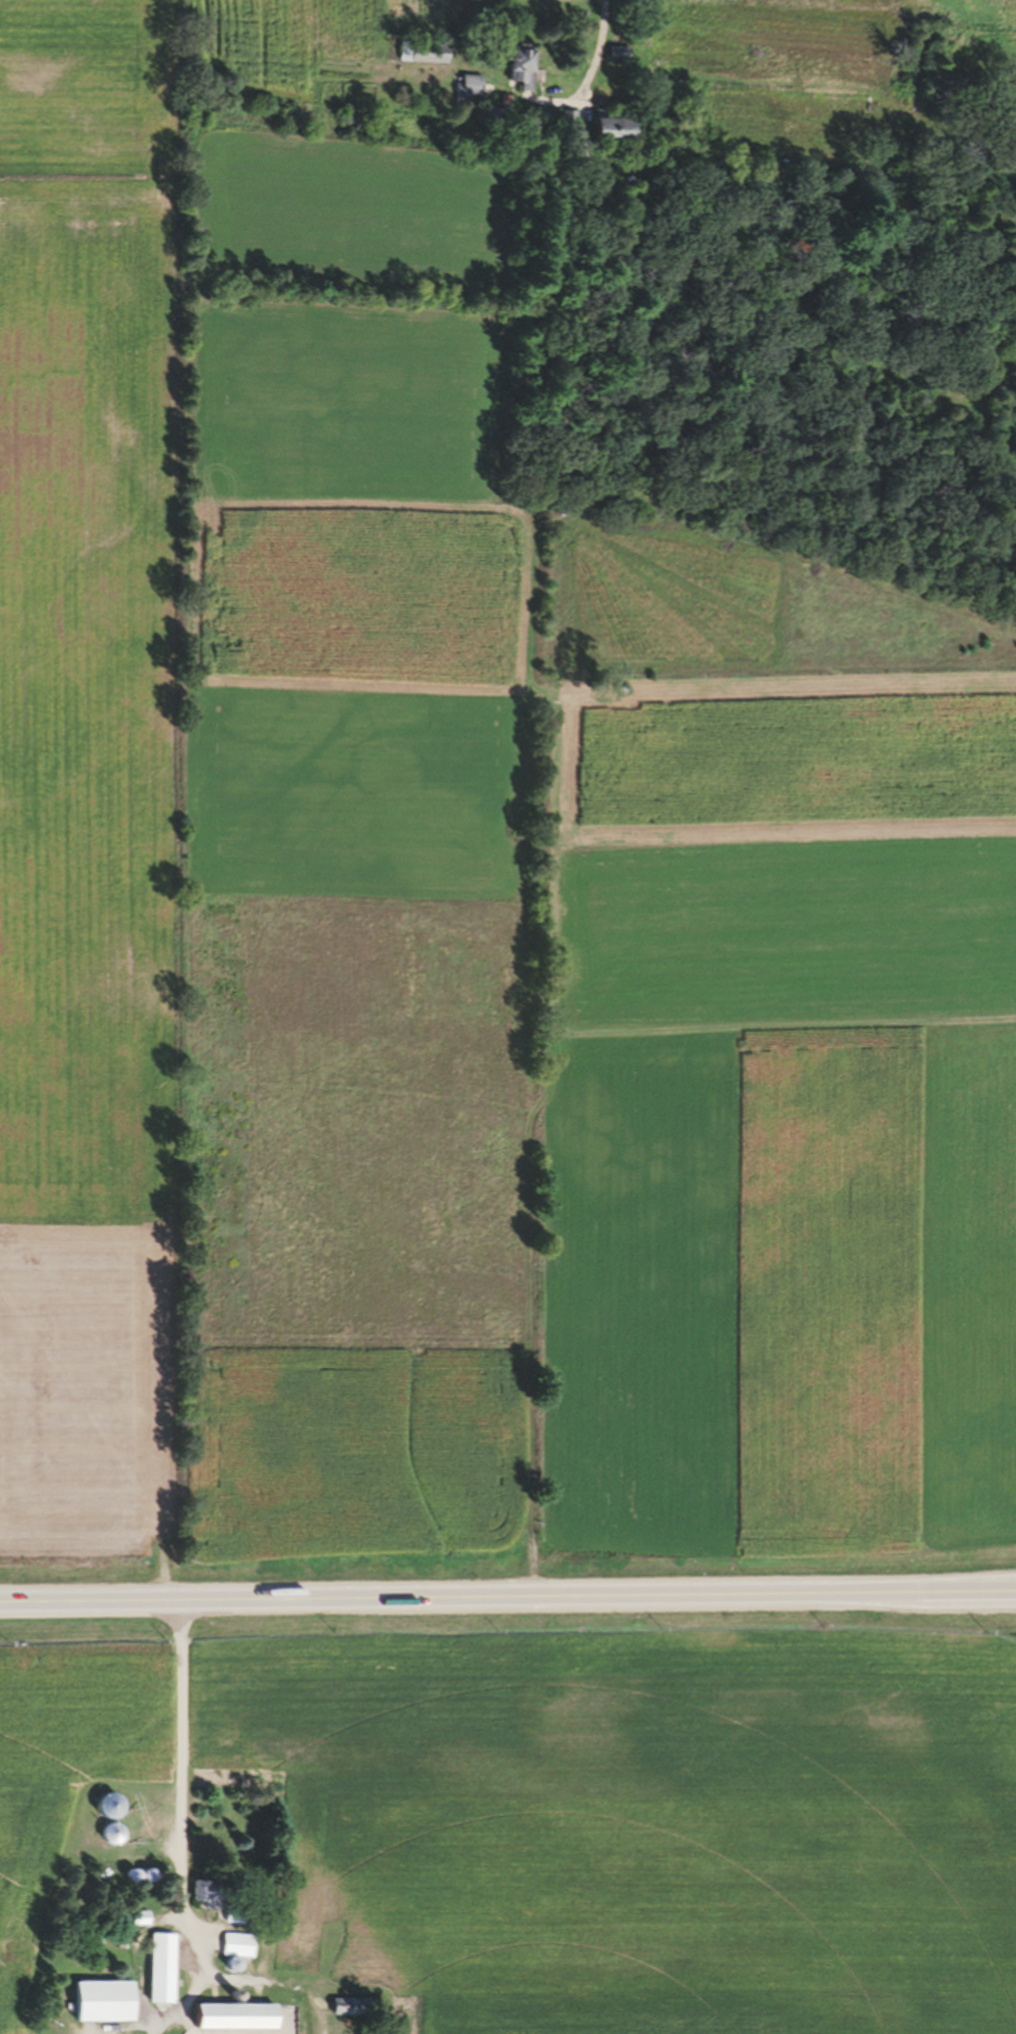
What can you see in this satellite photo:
road: (596, 55)
building: (618, 60)
building: (421, 61)
building: (520, 76)
building: (486, 126)
building: (613, 138)
crop: (450, 929)
road: (507, 1603)
road: (181, 1745)
building: (108, 1841)
building: (206, 1898)
building: (235, 1953)
building: (160, 1976)
building: (102, 2009)
building: (235, 2023)

